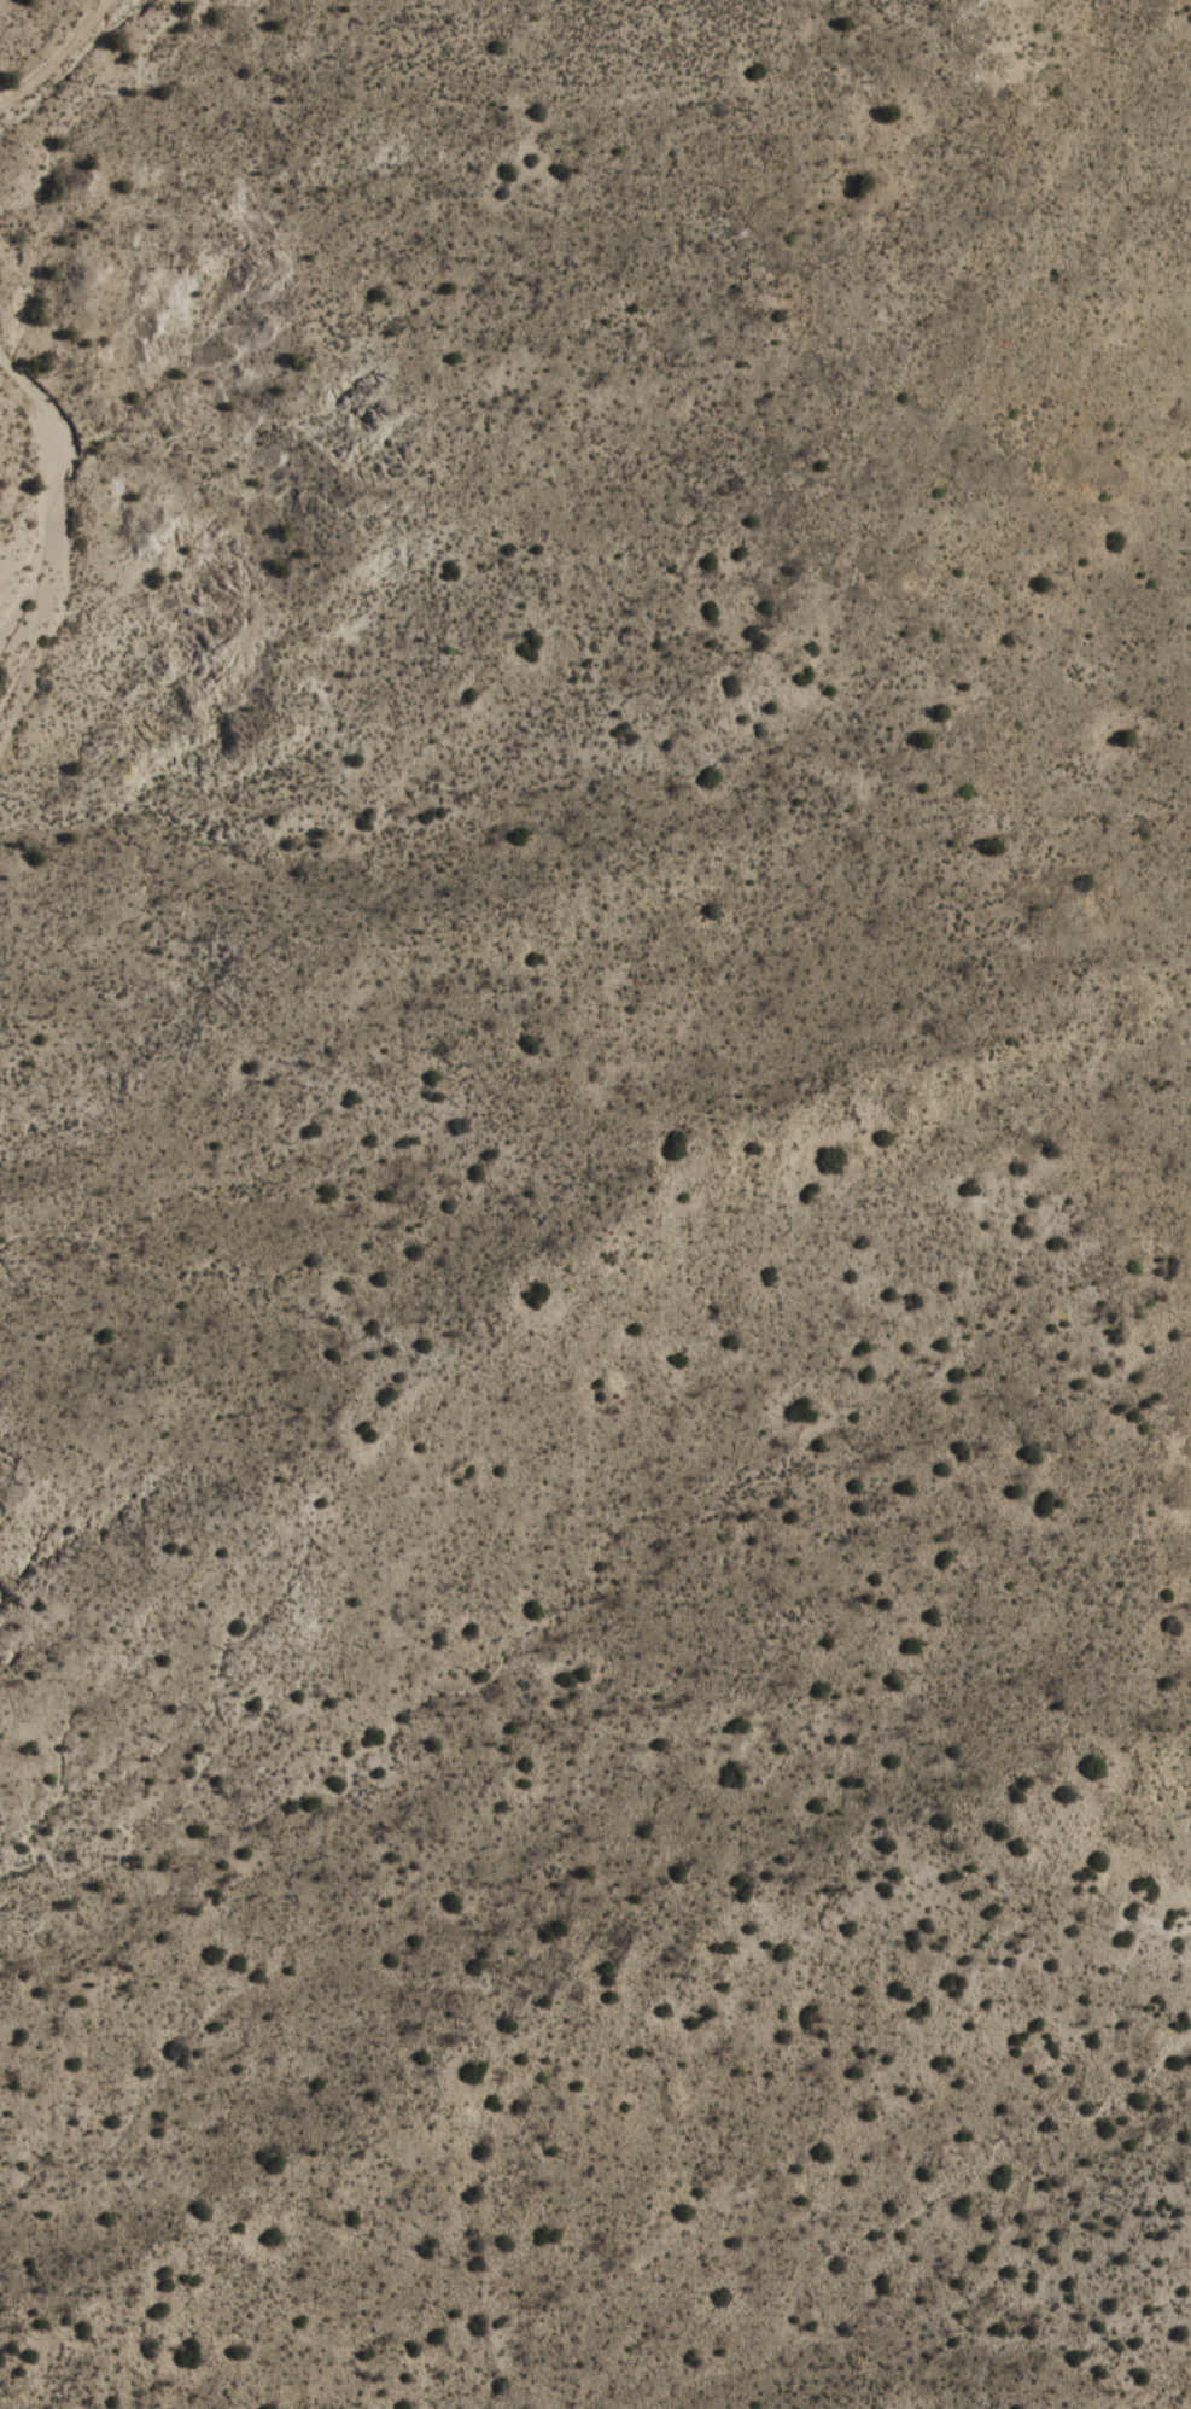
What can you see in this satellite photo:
road: (52, 51)

